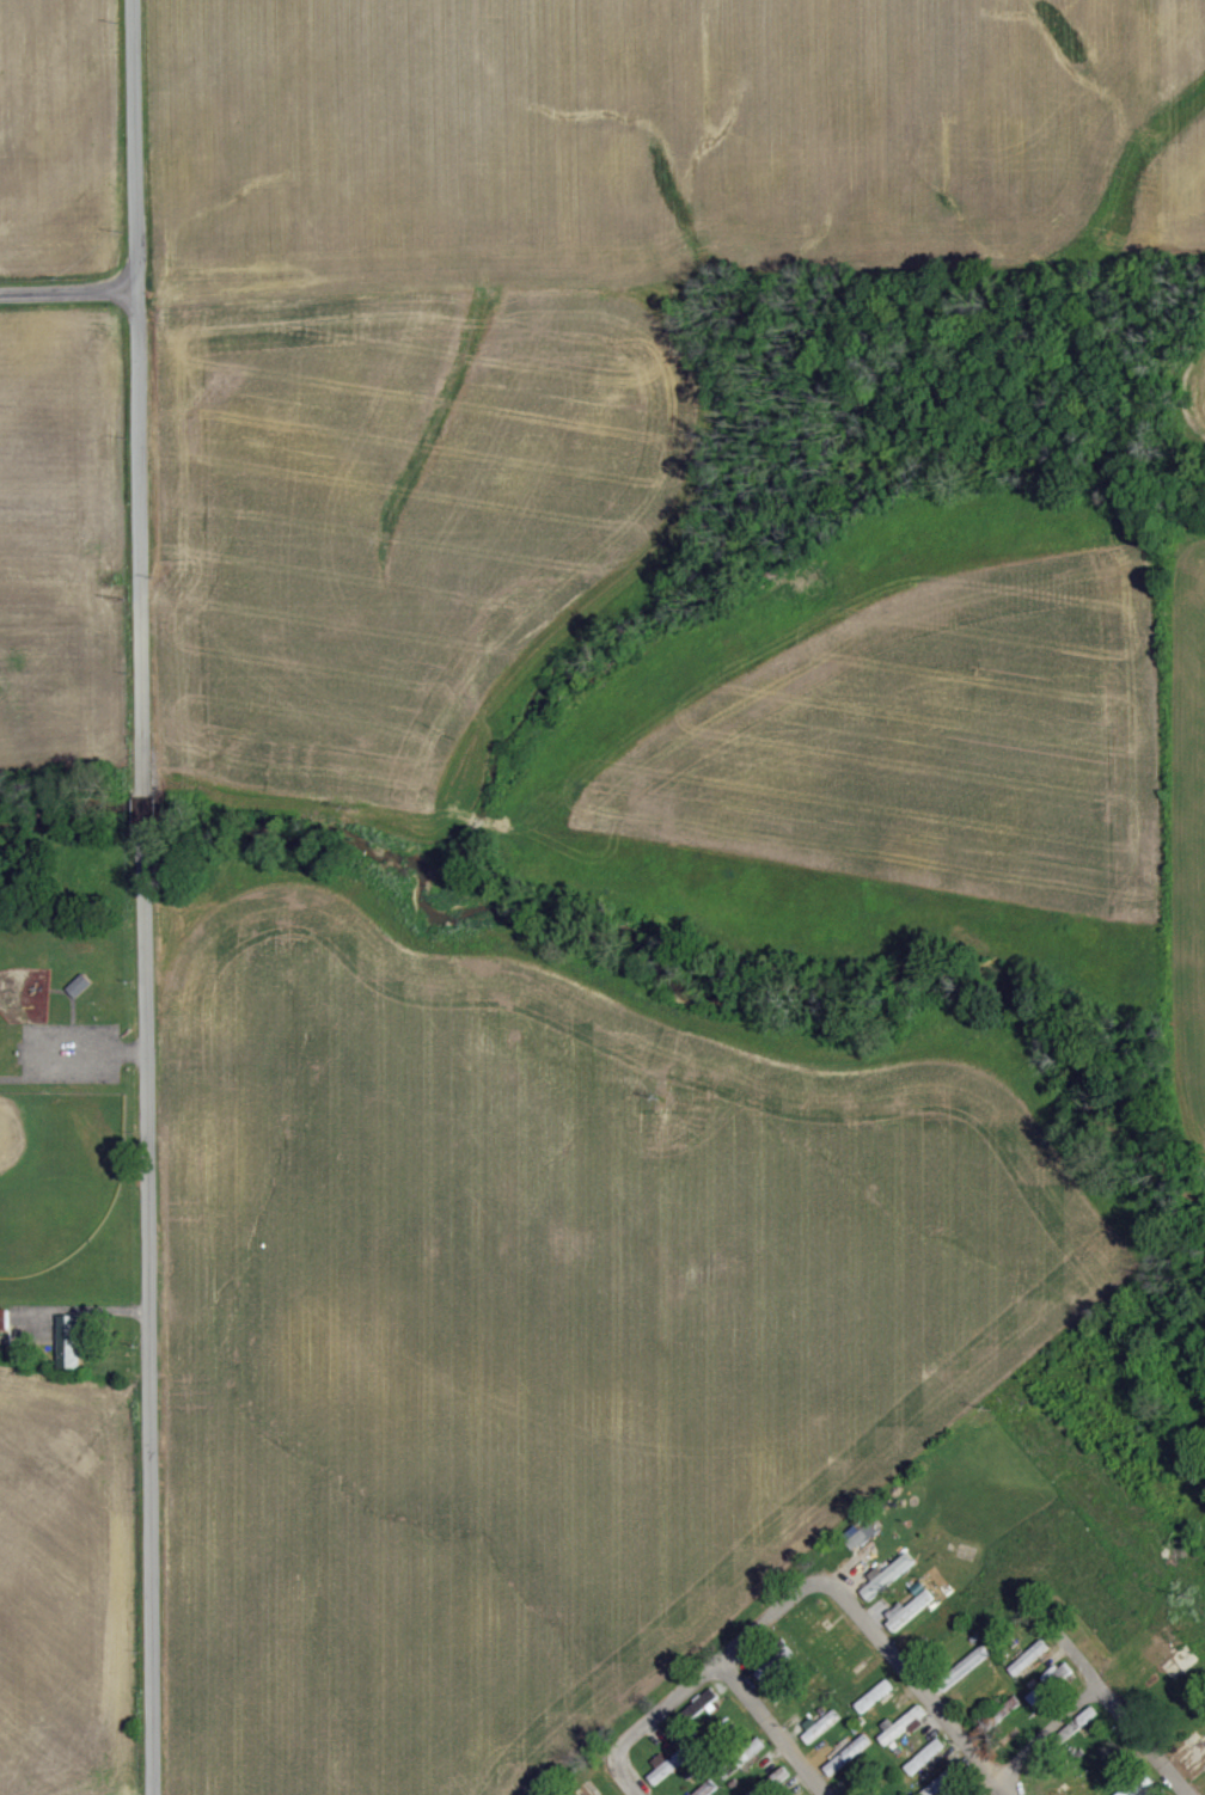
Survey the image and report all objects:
road: (69, 288)
road: (140, 394)
road: (145, 808)
building: (82, 985)
road: (151, 1310)
building: (6, 1319)
building: (72, 1342)
building: (864, 1537)
building: (889, 1576)
road: (806, 1587)
building: (912, 1611)
building: (1030, 1658)
building: (974, 1661)
building: (775, 1664)
road: (1083, 1664)
building: (1052, 1684)
building: (876, 1696)
road: (1091, 1697)
building: (701, 1709)
building: (906, 1723)
building: (821, 1726)
road: (773, 1728)
building: (848, 1756)
building: (926, 1756)
building: (770, 1762)
building: (672, 1763)
building: (946, 1779)
building: (1139, 1788)
building: (710, 1789)

